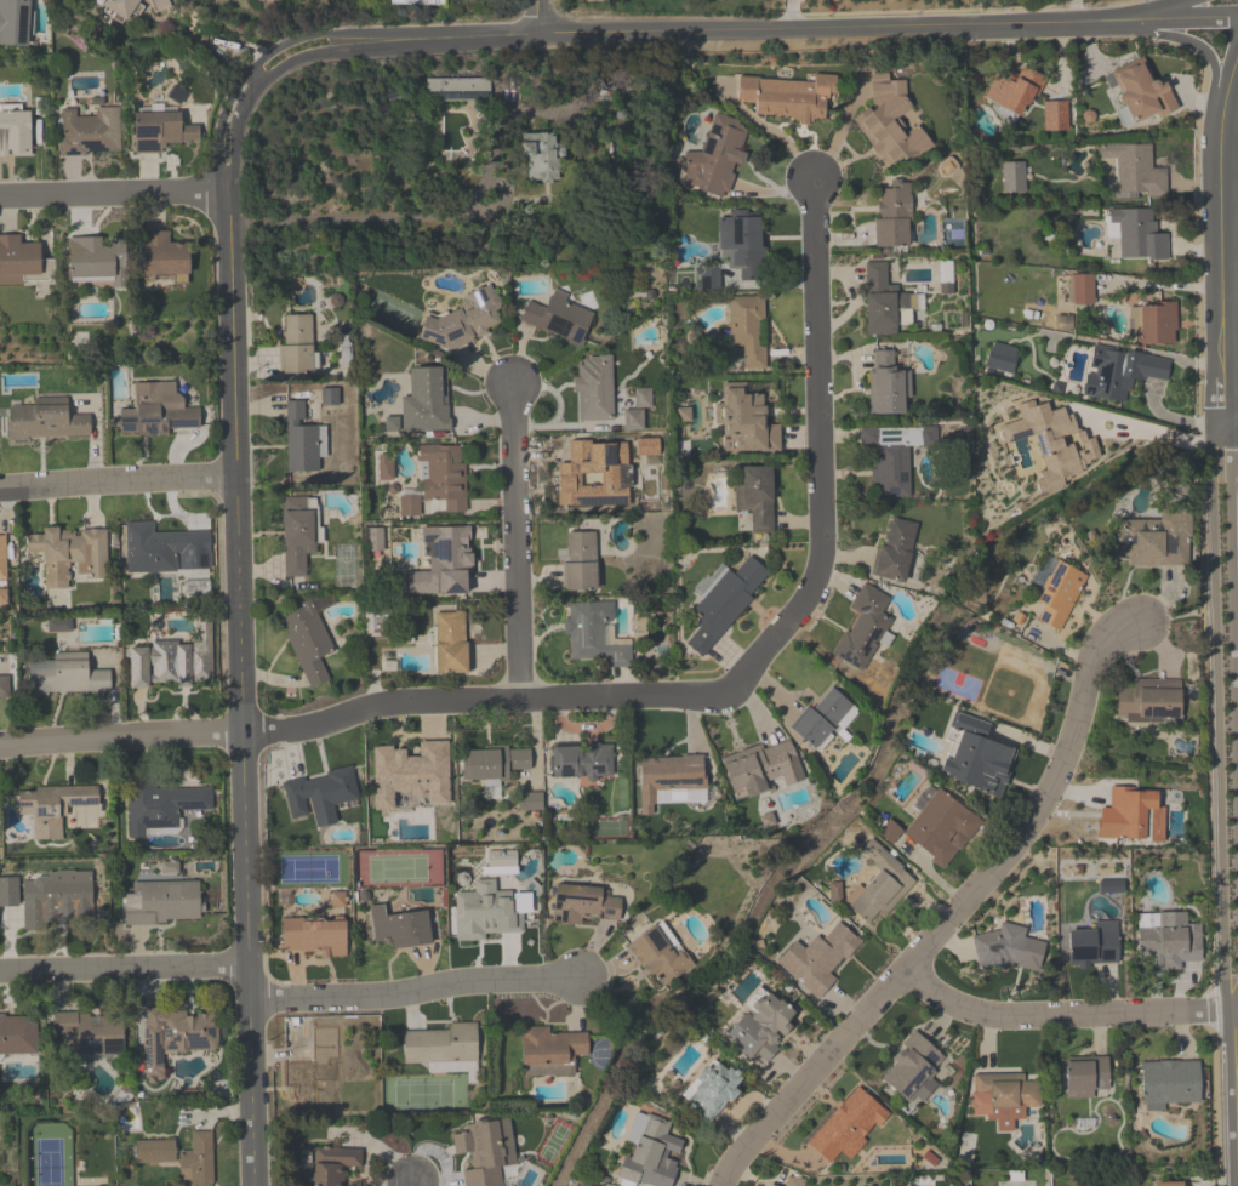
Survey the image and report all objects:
building: (259, 0)
building: (121, 7)
road: (1162, 10)
road: (1077, 11)
road: (793, 15)
road: (538, 17)
building: (13, 22)
road: (741, 30)
road: (1186, 41)
building: (1014, 89)
building: (458, 90)
building: (1140, 90)
building: (787, 96)
building: (1054, 115)
building: (889, 120)
building: (161, 131)
building: (90, 132)
building: (15, 133)
building: (542, 155)
building: (715, 156)
building: (1134, 170)
building: (1011, 176)
road: (113, 195)
building: (891, 215)
building: (1137, 234)
road: (1216, 238)
building: (741, 243)
building: (164, 256)
building: (17, 260)
building: (98, 261)
building: (1082, 287)
building: (882, 301)
building: (558, 318)
building: (462, 319)
building: (1159, 323)
building: (747, 327)
building: (295, 344)
building: (1000, 359)
building: (1119, 371)
building: (885, 384)
building: (593, 388)
building: (424, 399)
building: (156, 410)
building: (743, 420)
road: (1120, 420)
building: (46, 421)
road: (1228, 426)
building: (298, 439)
building: (1051, 441)
building: (890, 471)
building: (593, 473)
building: (443, 474)
road: (116, 483)
building: (755, 497)
building: (1153, 538)
building: (295, 540)
road: (515, 542)
building: (160, 547)
building: (894, 549)
building: (69, 554)
road: (820, 555)
building: (2, 559)
building: (441, 560)
building: (580, 561)
building: (1059, 594)
building: (723, 603)
road: (238, 626)
building: (862, 626)
building: (592, 633)
building: (307, 640)
building: (450, 643)
road: (1232, 654)
building: (175, 658)
building: (68, 675)
building: (5, 685)
building: (1147, 700)
building: (820, 717)
road: (1217, 717)
road: (261, 731)
building: (975, 754)
building: (491, 762)
building: (583, 765)
building: (760, 766)
building: (410, 776)
building: (667, 776)
building: (319, 792)
building: (531, 802)
building: (159, 804)
building: (53, 806)
building: (1130, 814)
building: (941, 826)
building: (879, 883)
building: (160, 901)
building: (59, 902)
building: (584, 905)
building: (490, 911)
road: (955, 916)
building: (400, 926)
building: (314, 936)
building: (1169, 939)
building: (1092, 943)
building: (1006, 947)
building: (660, 956)
building: (818, 957)
road: (124, 968)
road: (415, 992)
road: (1236, 999)
road: (1063, 1014)
building: (759, 1022)
building: (91, 1032)
building: (18, 1034)
building: (177, 1036)
building: (440, 1044)
building: (550, 1045)
road: (1234, 1045)
building: (912, 1067)
building: (314, 1068)
building: (1084, 1074)
building: (1169, 1080)
building: (712, 1089)
building: (1000, 1097)
road: (1237, 1097)
building: (846, 1125)
building: (155, 1153)
building: (480, 1153)
building: (650, 1154)
building: (198, 1161)
building: (333, 1164)
building: (792, 1181)
road: (409, 1184)
building: (1166, 1184)

